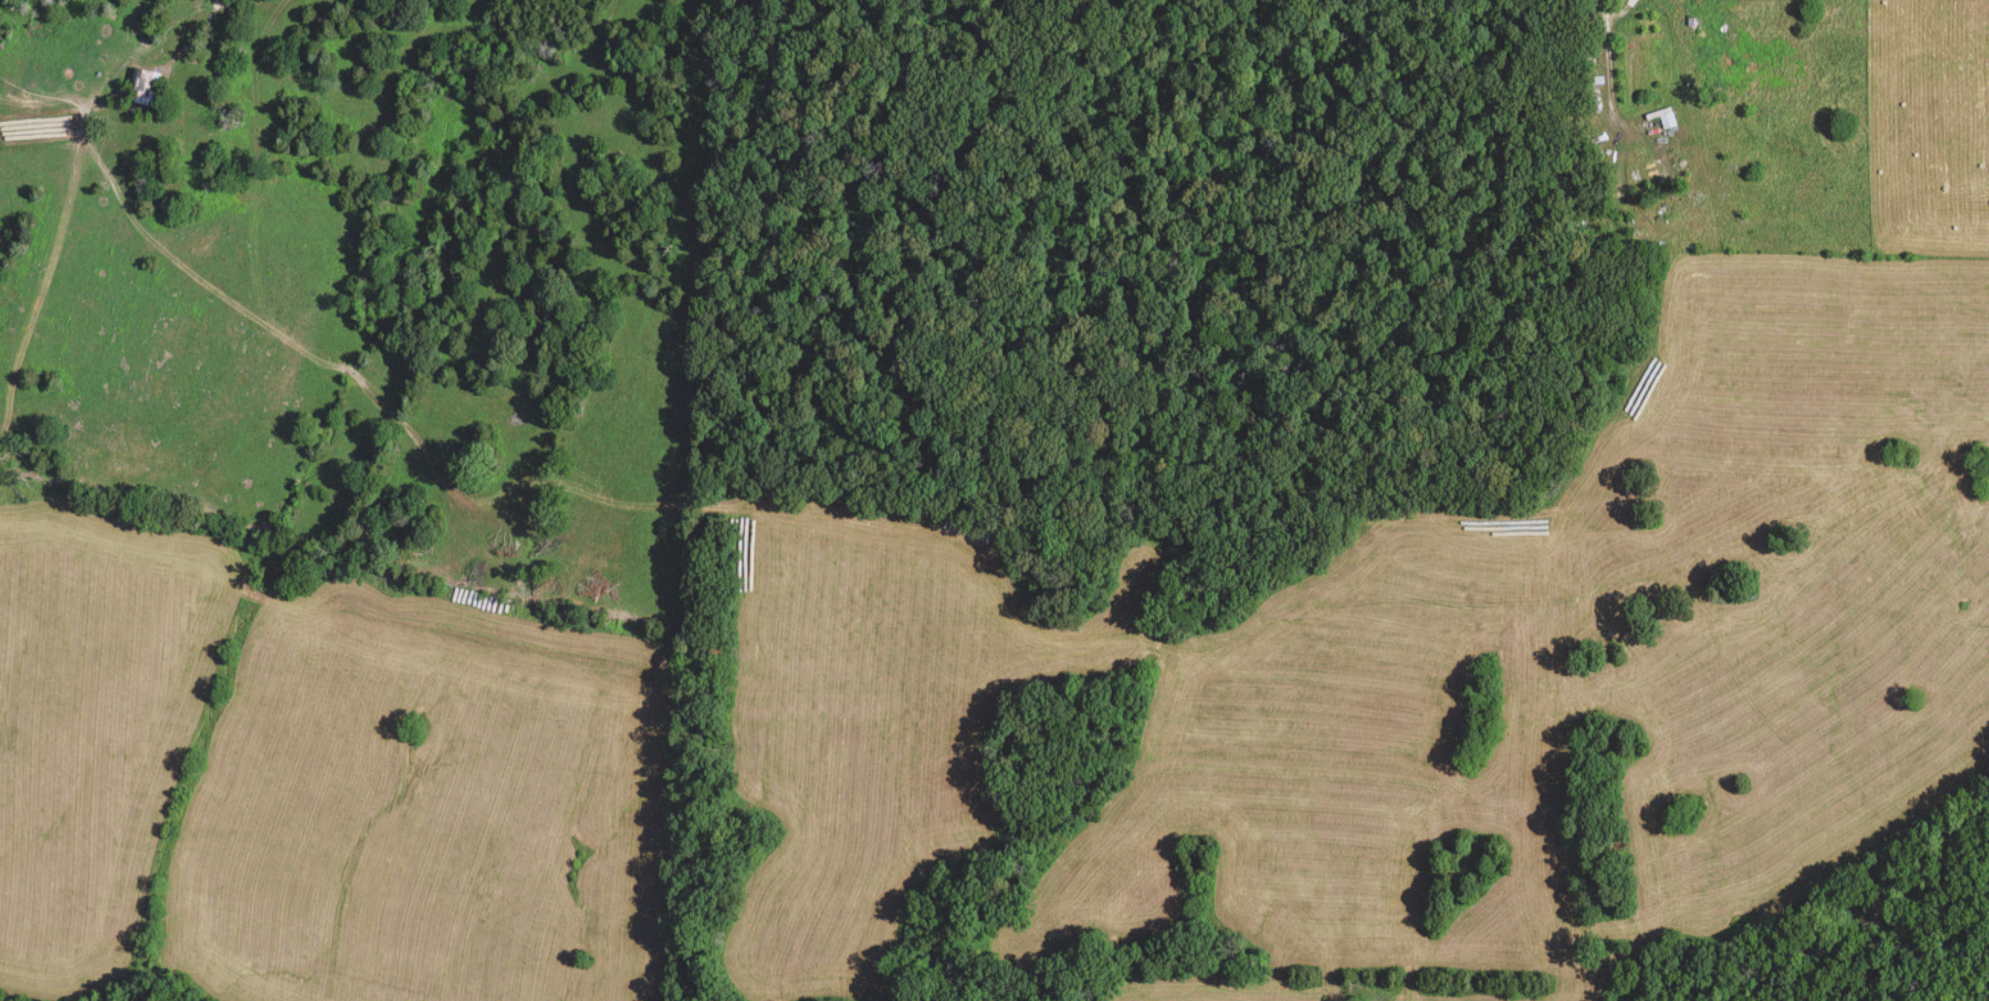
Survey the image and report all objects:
building: (1639, 60)
road: (1612, 67)
building: (1594, 82)
building: (144, 89)
building: (1661, 140)
crop: (1417, 692)
crop: (427, 810)

